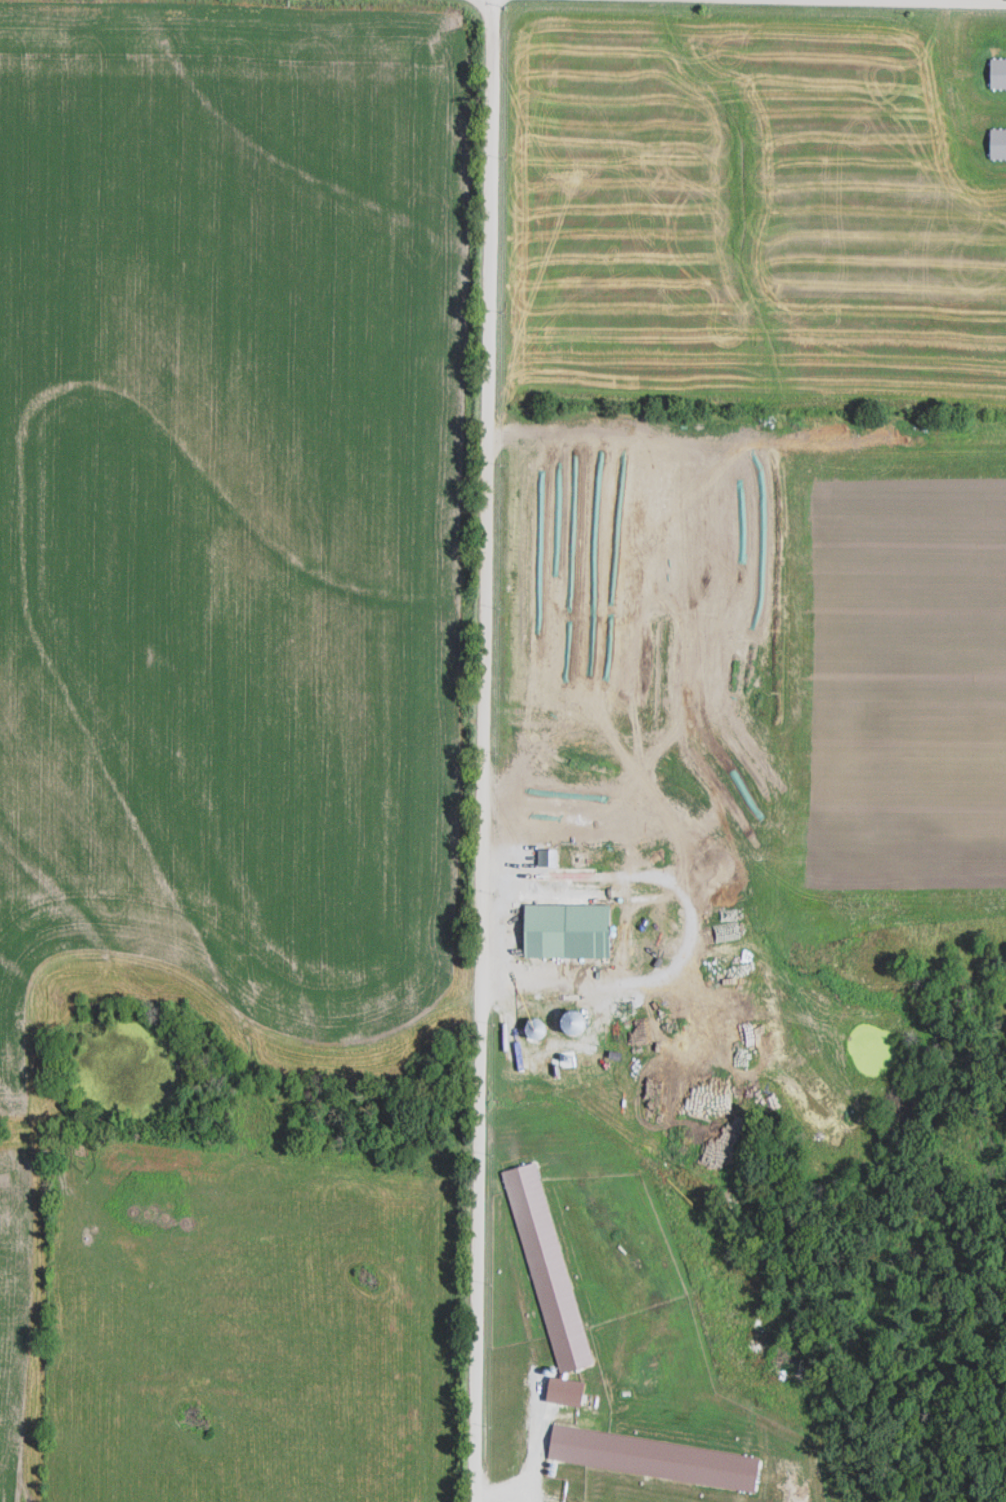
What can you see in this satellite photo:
road: (971, 0)
building: (998, 73)
building: (998, 144)
road: (484, 751)
building: (567, 930)
building: (547, 1267)
building: (653, 1377)
road: (548, 1411)
building: (654, 1458)

